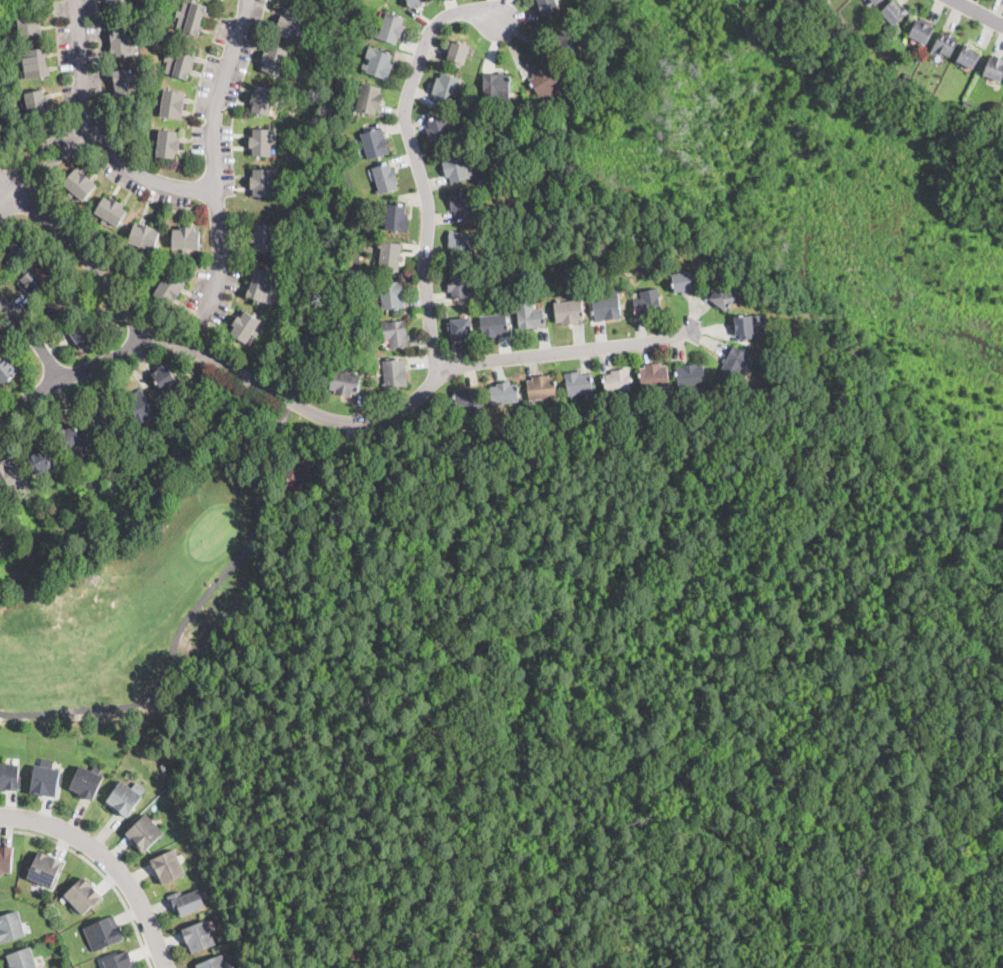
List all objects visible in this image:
building: (876, 1)
building: (415, 2)
building: (826, 3)
building: (120, 4)
building: (549, 7)
building: (892, 12)
road: (978, 12)
building: (191, 16)
building: (29, 21)
building: (291, 24)
building: (390, 28)
building: (921, 29)
building: (123, 39)
building: (905, 39)
building: (567, 42)
building: (944, 43)
building: (458, 53)
building: (968, 56)
building: (179, 60)
building: (274, 60)
building: (35, 63)
building: (378, 64)
building: (994, 67)
building: (906, 77)
building: (545, 79)
building: (124, 83)
building: (495, 85)
building: (446, 87)
building: (926, 90)
building: (369, 98)
building: (263, 100)
building: (37, 104)
building: (172, 104)
building: (967, 105)
building: (439, 130)
road: (96, 136)
building: (261, 142)
building: (167, 143)
building: (374, 143)
road: (215, 158)
road: (418, 161)
road: (39, 163)
building: (455, 166)
building: (385, 178)
building: (262, 182)
building: (79, 184)
building: (488, 192)
building: (462, 204)
building: (110, 210)
building: (396, 217)
park: (982, 227)
building: (144, 237)
building: (263, 237)
building: (186, 239)
building: (460, 244)
building: (13, 252)
building: (389, 255)
building: (32, 278)
building: (684, 280)
building: (460, 284)
building: (262, 285)
building: (169, 290)
building: (392, 295)
building: (721, 296)
building: (647, 303)
building: (57, 305)
building: (607, 306)
building: (568, 311)
building: (529, 316)
building: (494, 324)
building: (744, 325)
building: (245, 326)
building: (460, 326)
building: (395, 333)
building: (82, 336)
road: (34, 338)
building: (738, 362)
building: (7, 369)
building: (394, 373)
building: (690, 375)
road: (76, 376)
building: (164, 376)
building: (653, 377)
building: (617, 381)
building: (344, 382)
building: (579, 383)
building: (541, 387)
building: (503, 393)
building: (469, 400)
building: (665, 401)
building: (681, 401)
building: (140, 406)
building: (626, 406)
road: (314, 411)
building: (106, 422)
building: (475, 425)
road: (277, 426)
building: (68, 436)
building: (42, 458)
building: (298, 467)
building: (11, 476)
park: (134, 527)
park: (627, 687)
building: (164, 766)
building: (10, 775)
building: (46, 777)
building: (87, 780)
building: (125, 796)
building: (144, 831)
building: (5, 857)
road: (109, 860)
building: (168, 865)
building: (45, 866)
road: (100, 870)
building: (83, 894)
building: (187, 899)
building: (11, 924)
building: (104, 932)
building: (198, 934)
building: (22, 957)
building: (119, 960)
building: (213, 962)

